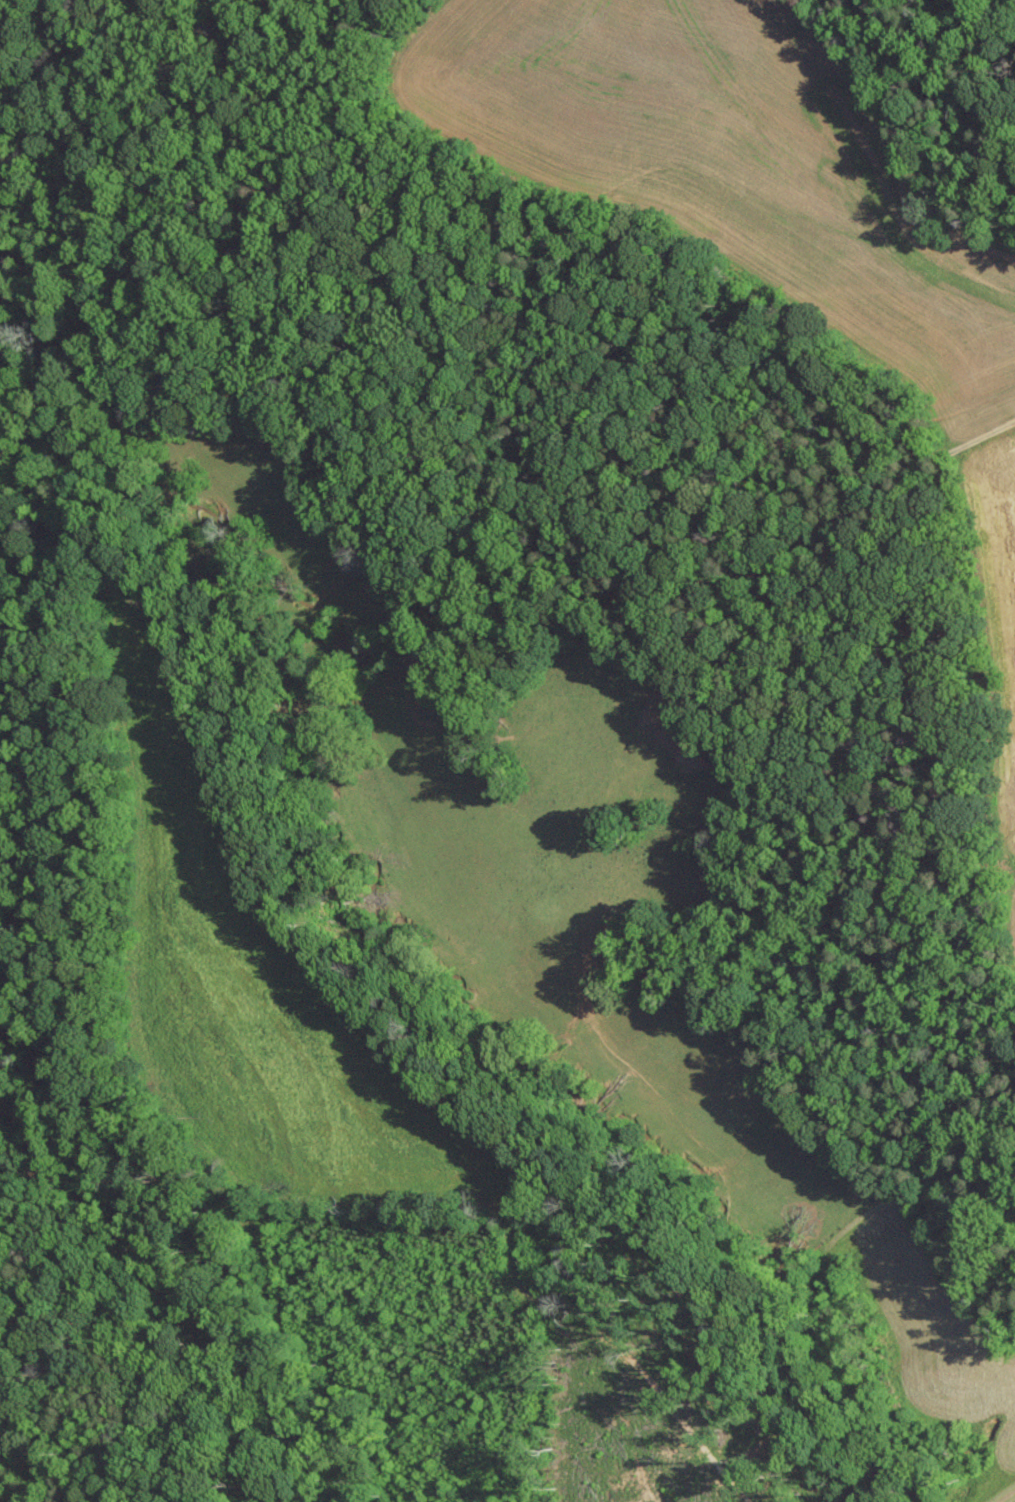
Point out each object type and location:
park: (86, 810)

